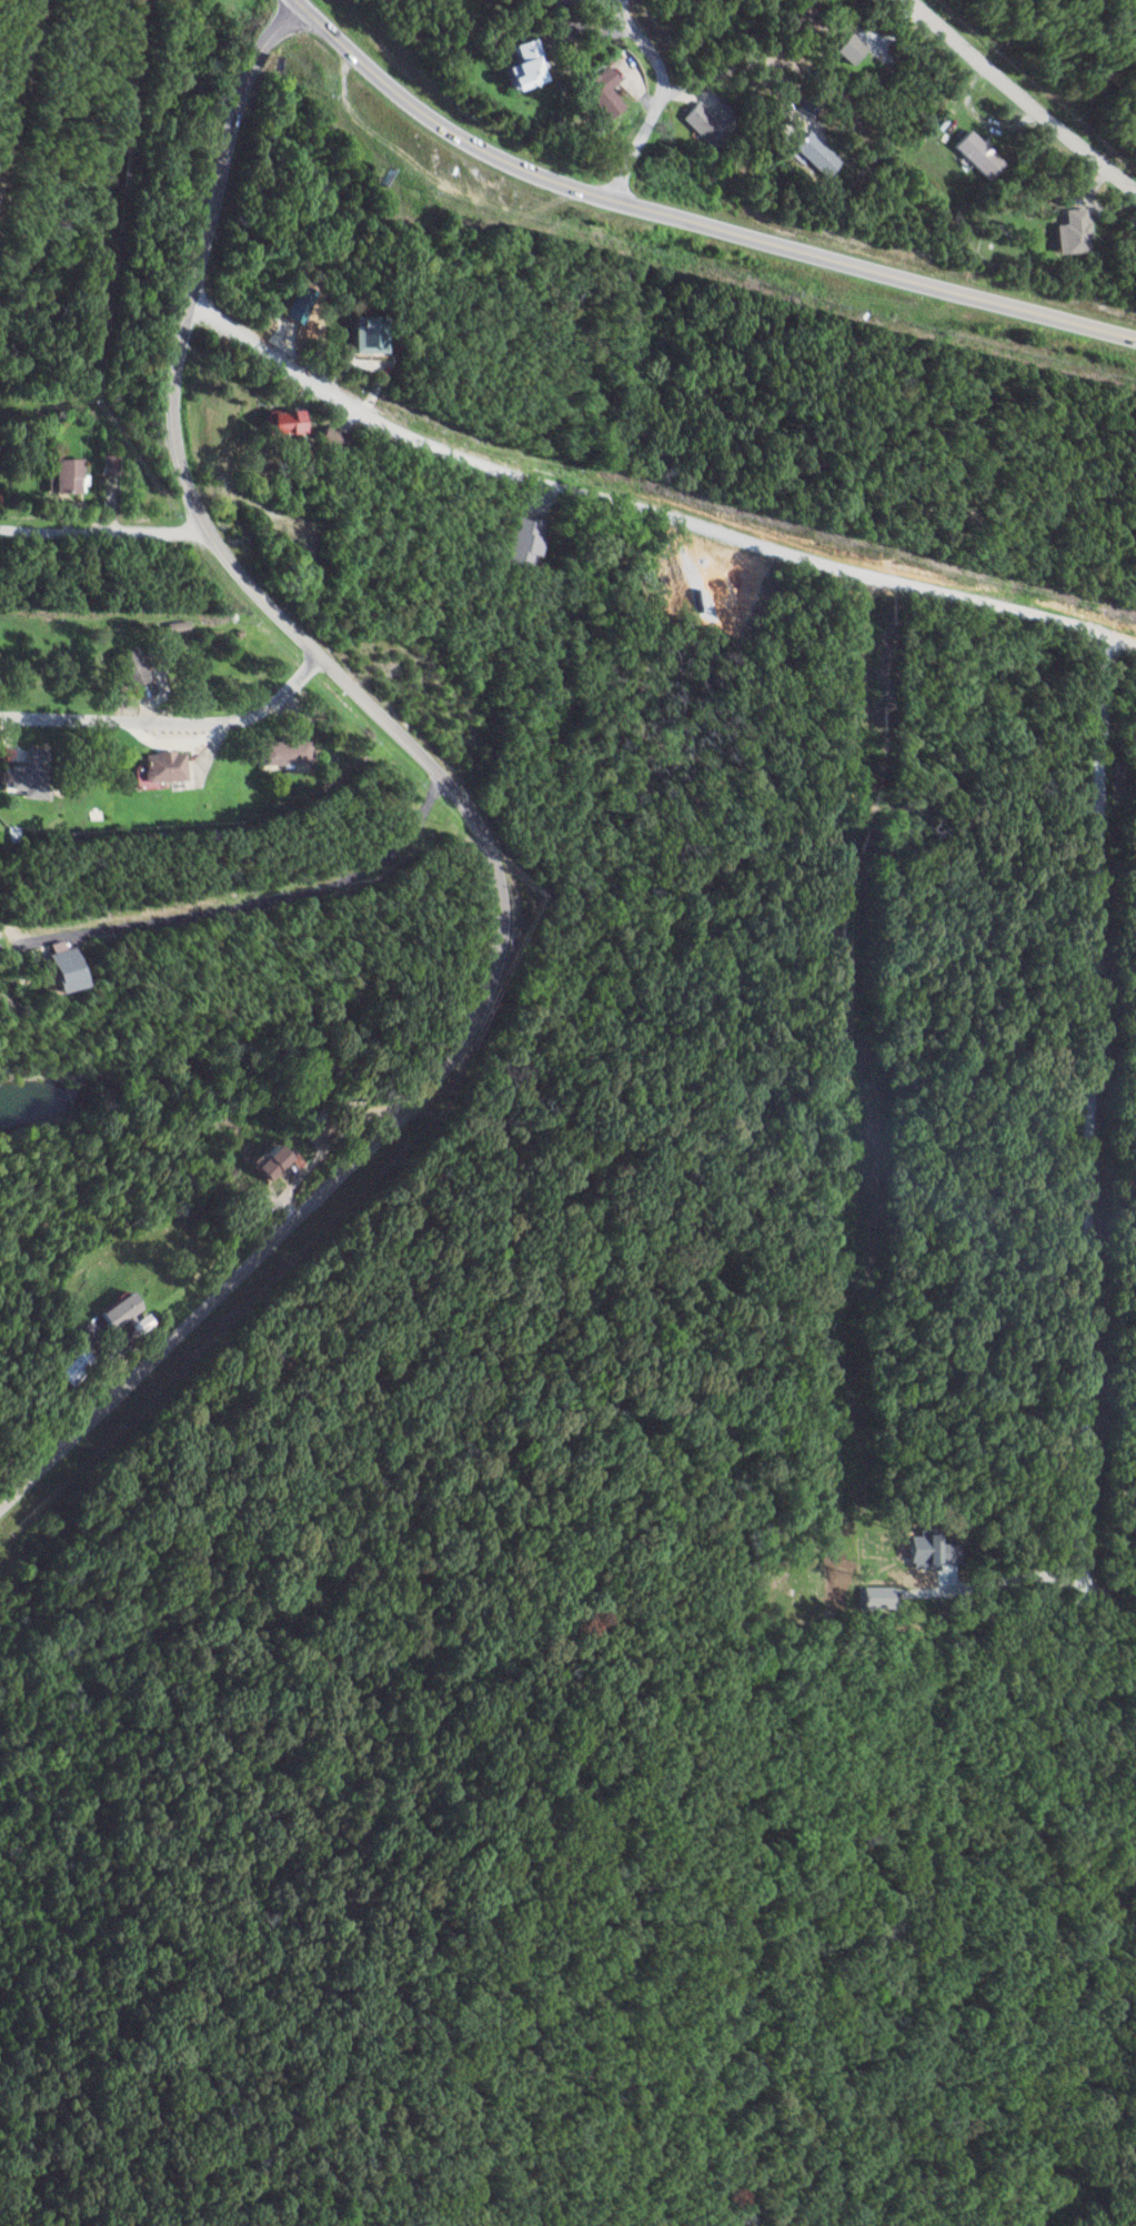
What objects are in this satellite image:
road: (614, 1)
road: (8, 2)
building: (844, 48)
building: (519, 63)
building: (597, 92)
road: (22, 98)
road: (661, 98)
road: (1022, 98)
building: (702, 121)
building: (813, 153)
building: (973, 154)
road: (691, 220)
building: (1066, 232)
building: (291, 303)
building: (363, 333)
building: (277, 421)
building: (328, 437)
building: (60, 475)
road: (645, 508)
road: (104, 533)
building: (524, 541)
building: (123, 667)
road: (172, 726)
building: (279, 752)
building: (158, 767)
building: (18, 782)
road: (458, 798)
road: (265, 899)
building: (54, 968)
road: (862, 1078)
road: (1097, 1098)
building: (260, 1160)
building: (113, 1313)
building: (67, 1366)
building: (876, 1597)

